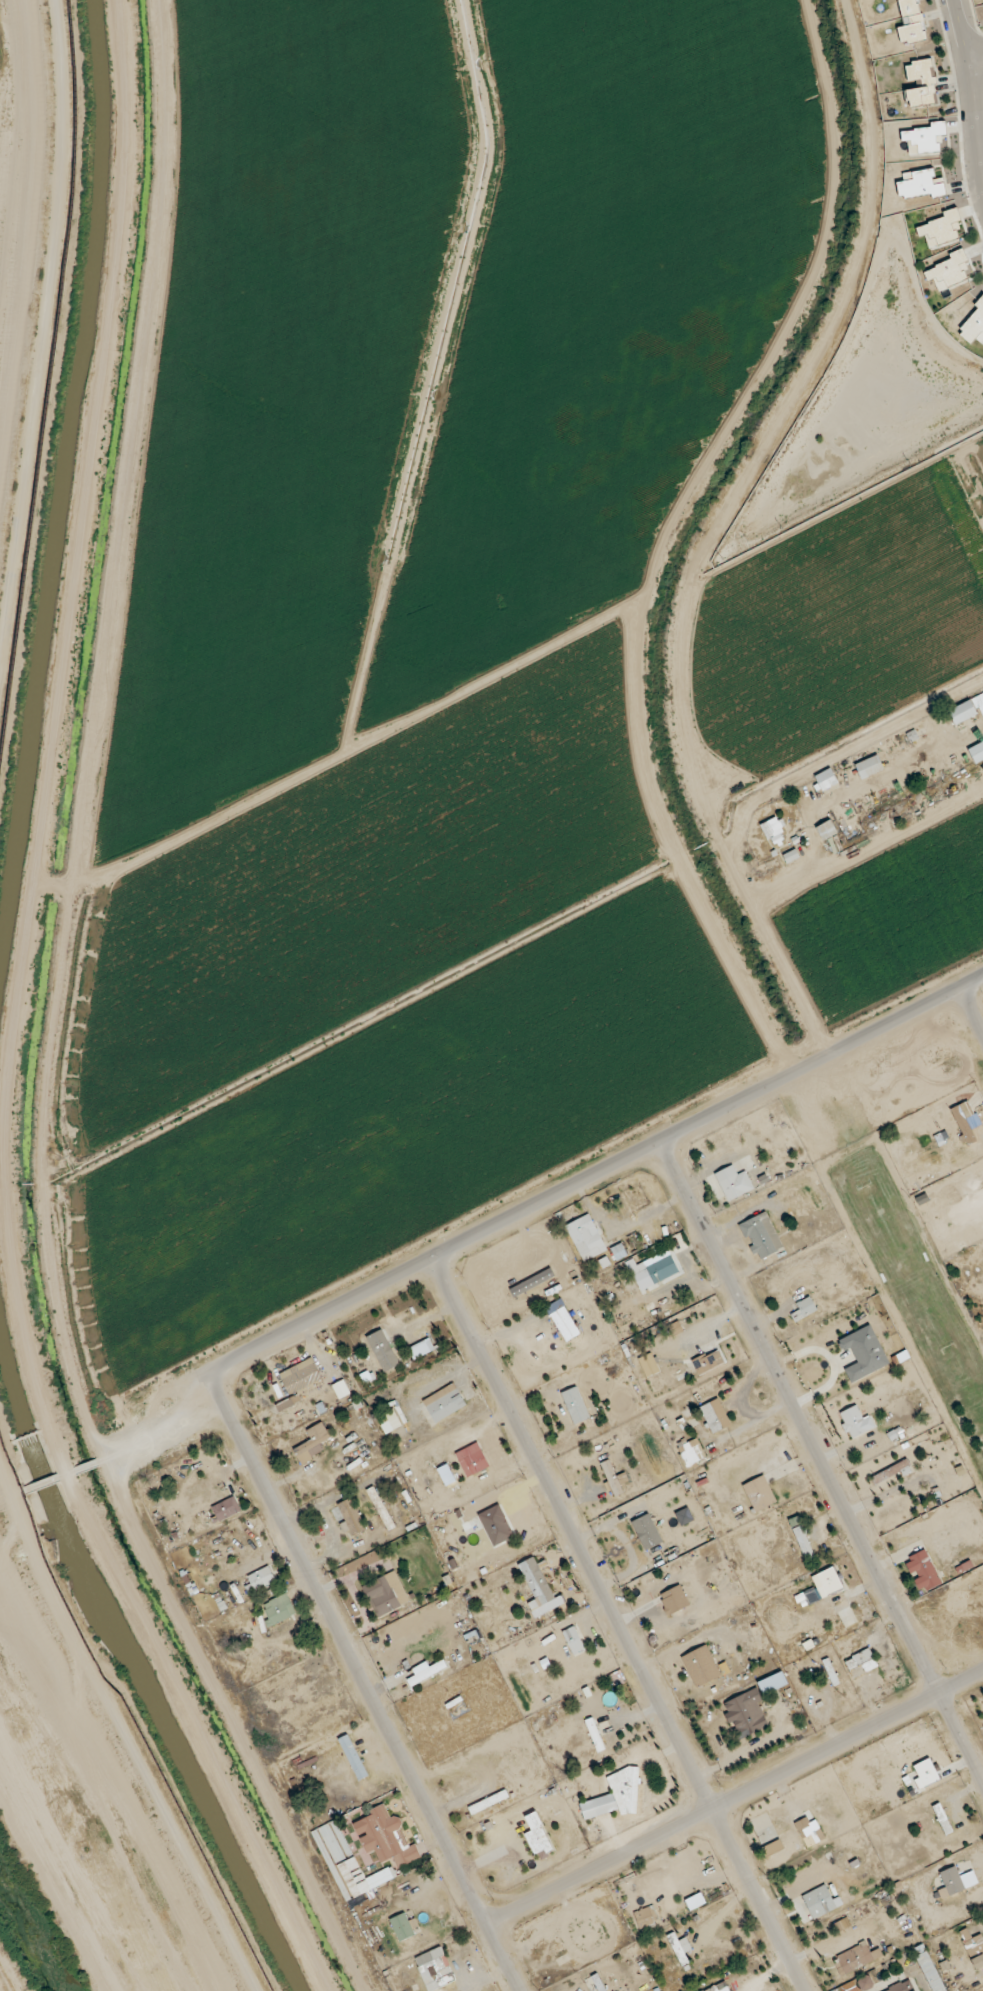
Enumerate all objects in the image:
building: (911, 22)
road: (968, 52)
road: (957, 53)
road: (970, 57)
building: (921, 83)
road: (974, 157)
building: (967, 709)
building: (977, 751)
building: (869, 766)
building: (826, 778)
building: (773, 829)
building: (827, 829)
road: (972, 1008)
building: (965, 1121)
road: (598, 1178)
building: (734, 1182)
building: (761, 1236)
building: (586, 1237)
building: (659, 1267)
building: (538, 1287)
park: (911, 1288)
building: (805, 1308)
building: (563, 1320)
building: (383, 1350)
building: (864, 1352)
building: (707, 1360)
building: (649, 1364)
building: (300, 1375)
building: (444, 1402)
building: (575, 1404)
building: (289, 1406)
building: (713, 1416)
building: (389, 1420)
building: (855, 1422)
building: (314, 1442)
building: (689, 1451)
building: (473, 1457)
road: (822, 1463)
building: (891, 1472)
building: (611, 1477)
building: (759, 1493)
building: (225, 1508)
building: (382, 1508)
building: (352, 1515)
building: (647, 1531)
building: (803, 1541)
building: (922, 1570)
building: (824, 1585)
building: (539, 1588)
building: (386, 1593)
building: (278, 1609)
road: (619, 1625)
building: (573, 1640)
building: (861, 1662)
building: (701, 1666)
building: (426, 1670)
road: (366, 1686)
building: (752, 1700)
building: (595, 1734)
building: (614, 1796)
road: (736, 1798)
building: (489, 1801)
building: (942, 1818)
building: (809, 1830)
building: (537, 1834)
building: (386, 1836)
building: (331, 1842)
building: (956, 1880)
building: (819, 1901)
building: (644, 1917)
building: (402, 1926)
river: (31, 1931)
building: (973, 1946)
building: (680, 1947)
building: (853, 1959)
building: (434, 1969)
building: (902, 1986)
building: (719, 1987)

